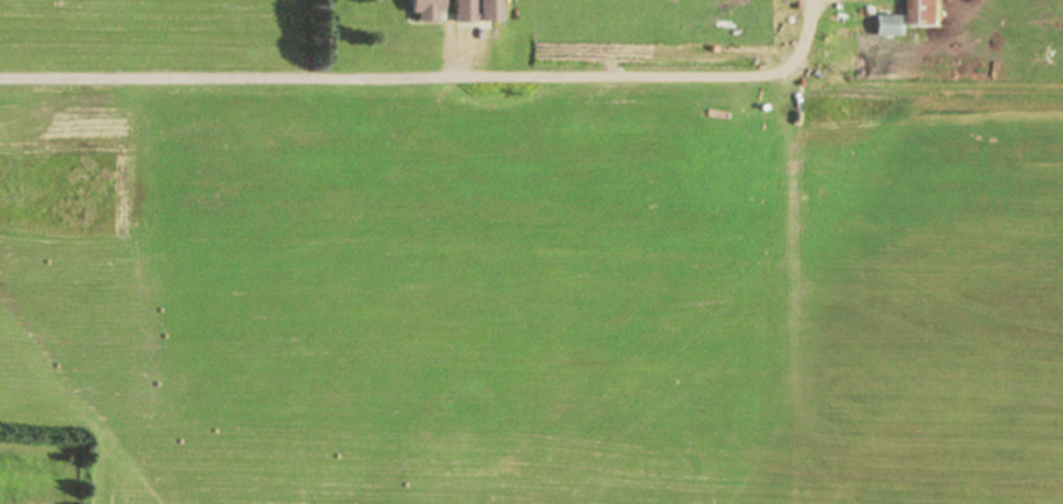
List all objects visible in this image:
building: (422, 11)
building: (475, 11)
building: (919, 13)

